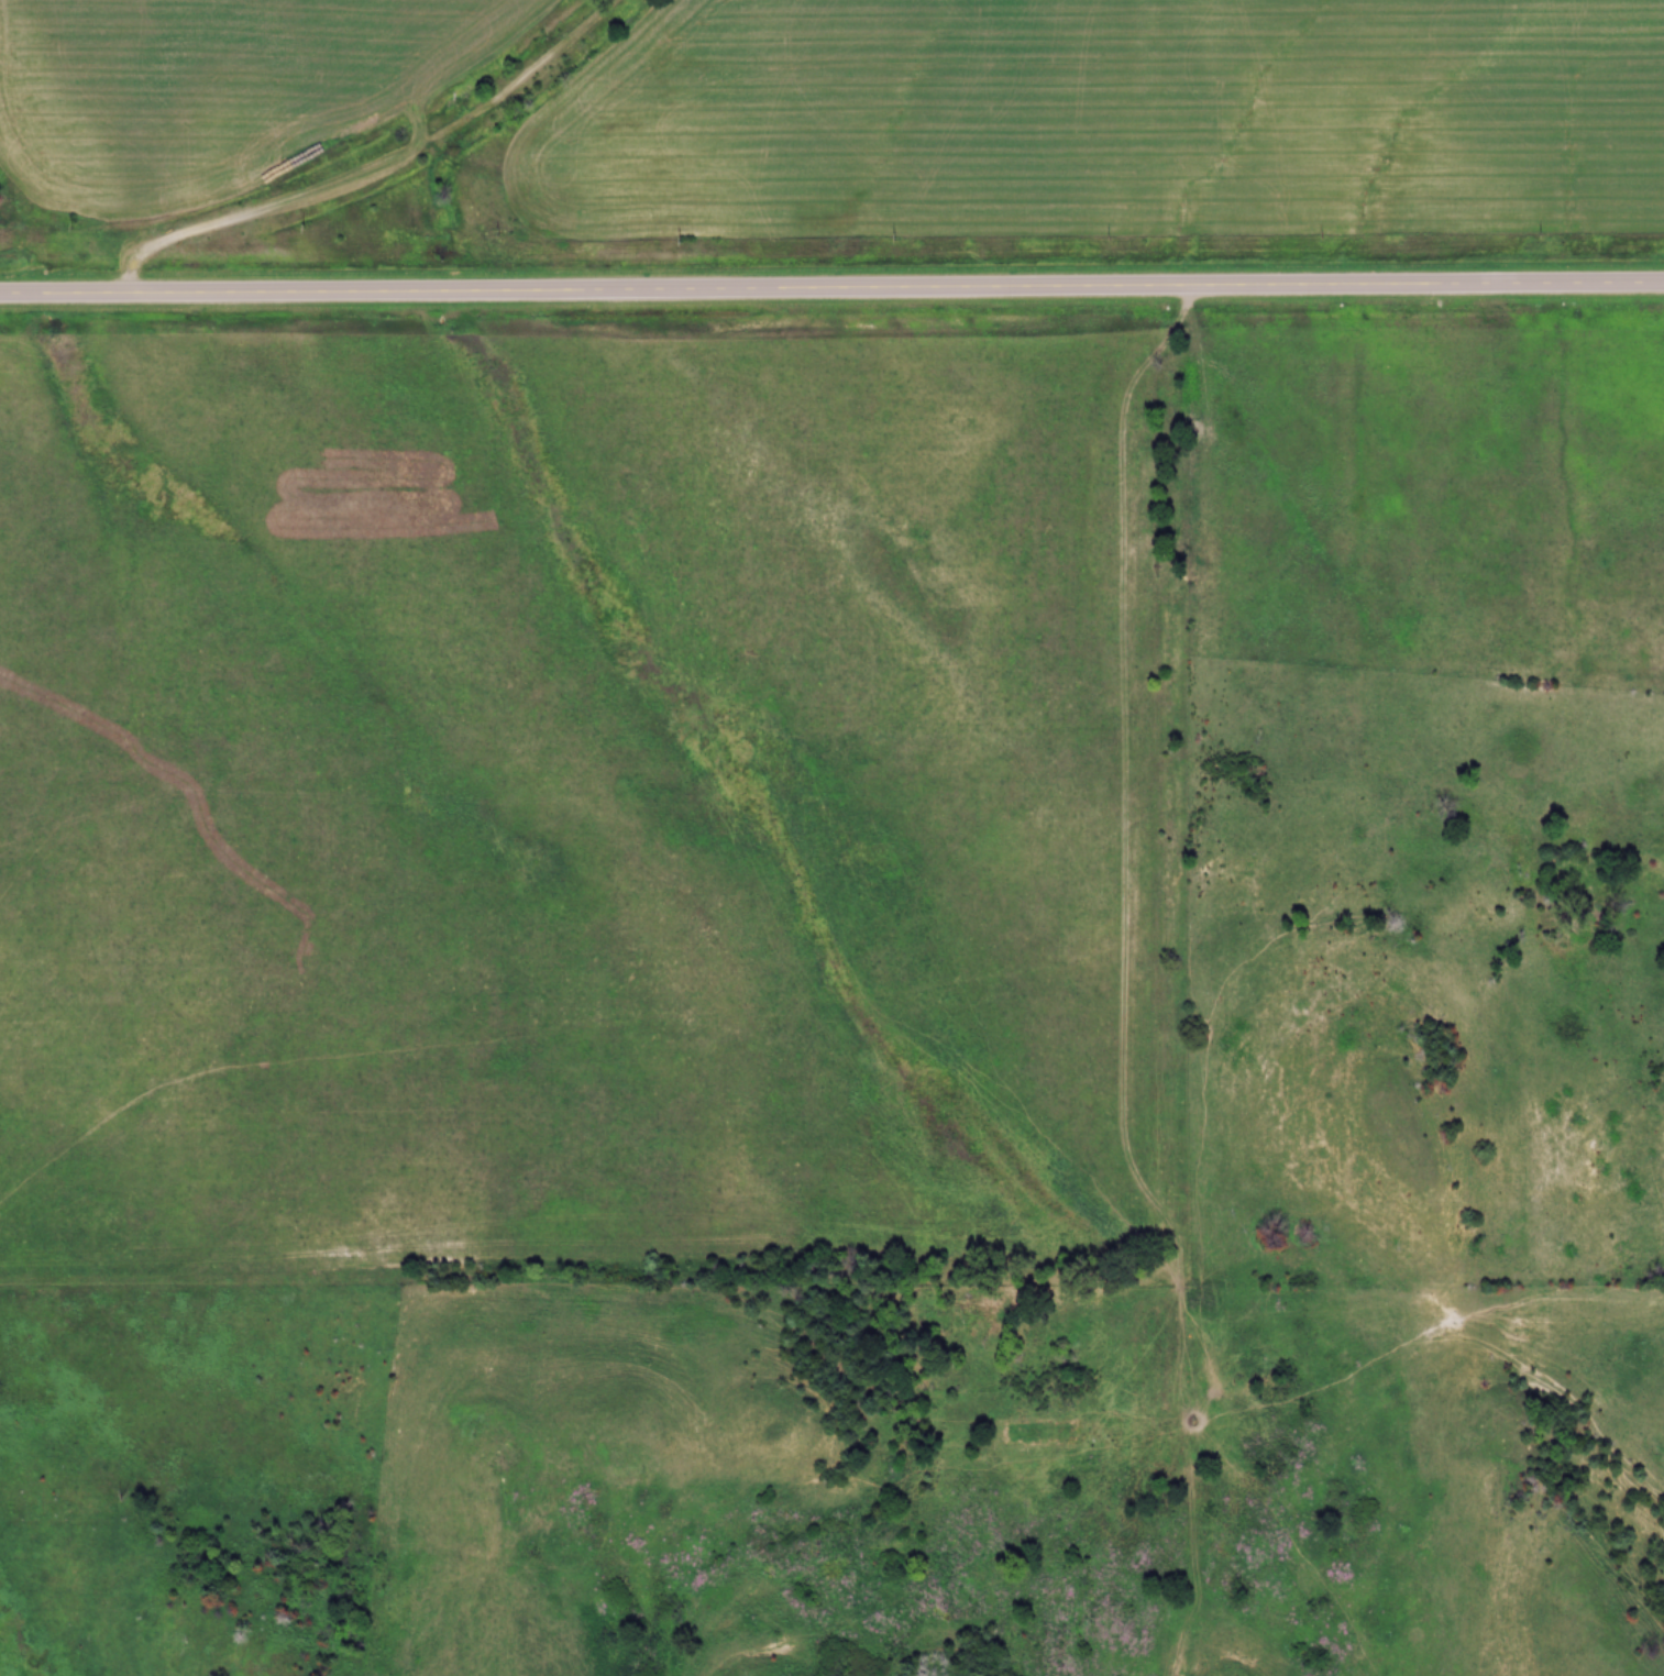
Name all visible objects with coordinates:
road: (831, 291)

